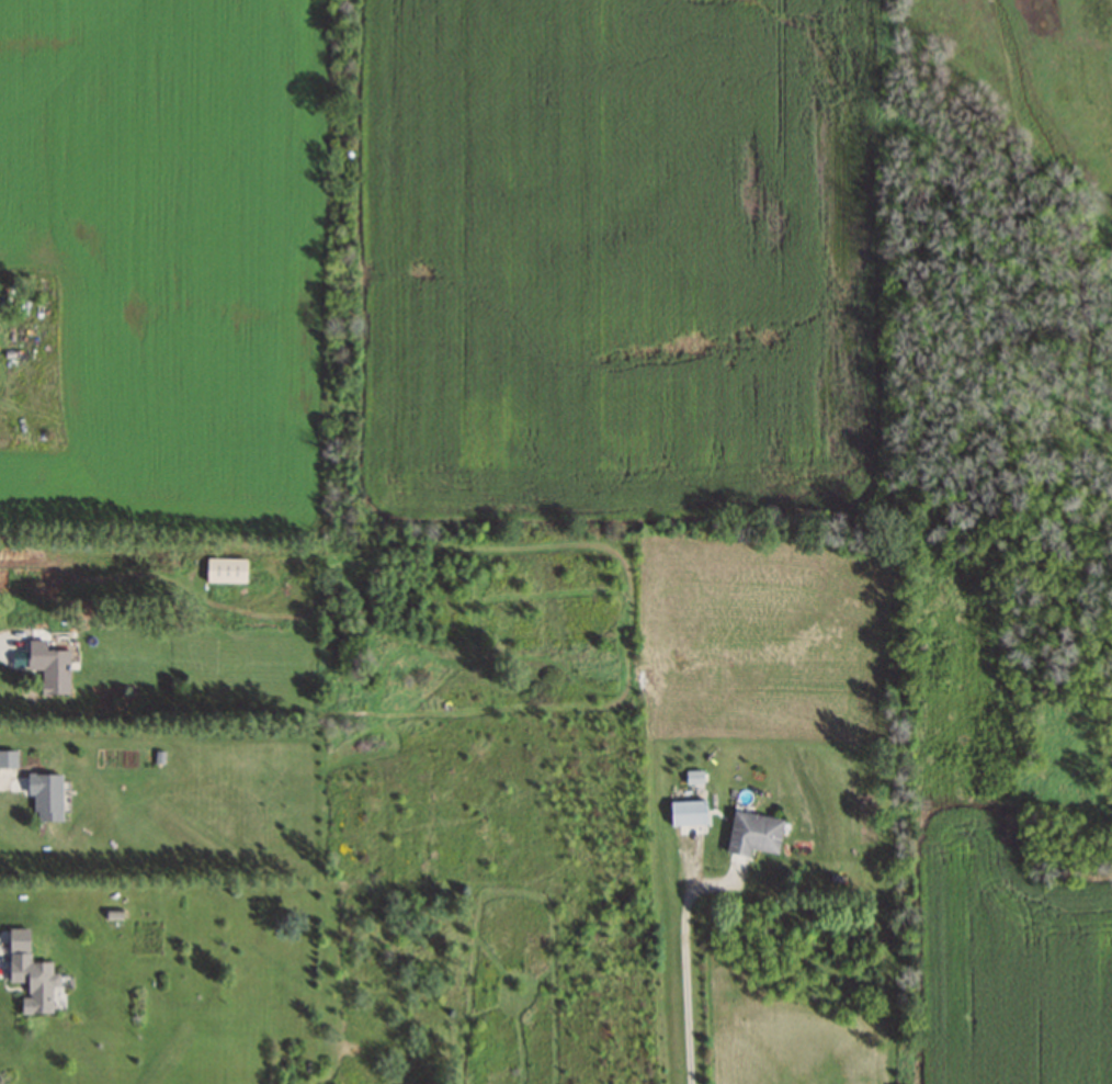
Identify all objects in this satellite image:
building: (226, 569)
road: (10, 647)
building: (49, 666)
road: (7, 782)
building: (46, 795)
building: (688, 812)
building: (753, 834)
building: (30, 973)

